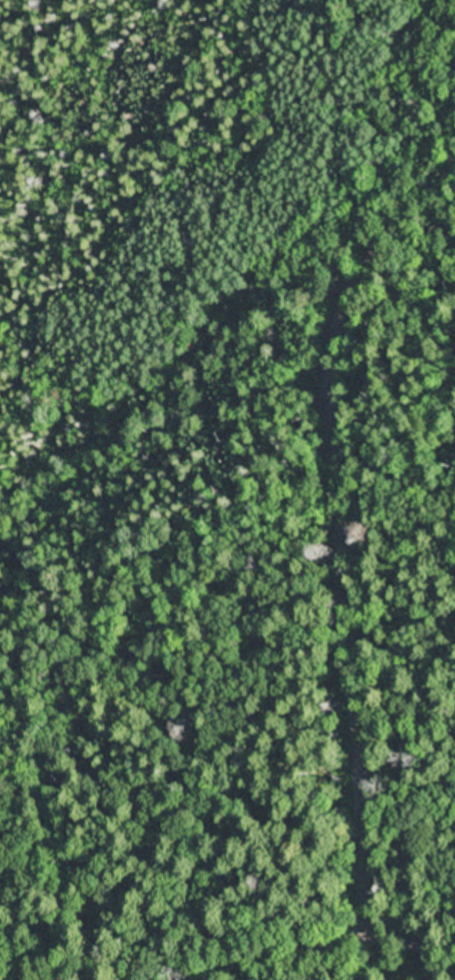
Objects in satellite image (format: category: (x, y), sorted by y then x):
road: (350, 503)
road: (325, 946)

